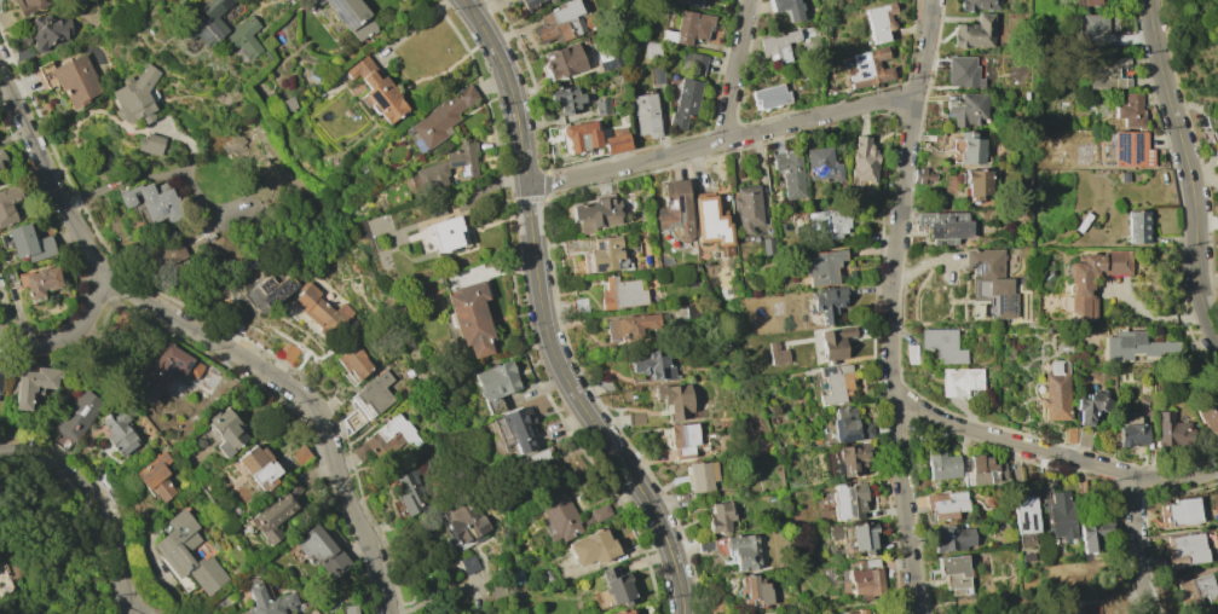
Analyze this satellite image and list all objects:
building: (550, 0)
building: (530, 2)
building: (686, 2)
building: (1090, 2)
building: (1217, 2)
road: (441, 4)
building: (977, 4)
building: (28, 5)
building: (787, 7)
building: (352, 17)
building: (879, 21)
building: (206, 22)
building: (559, 23)
building: (689, 27)
building: (1093, 30)
building: (975, 33)
building: (40, 35)
building: (244, 36)
road: (477, 46)
building: (778, 46)
building: (651, 50)
building: (564, 60)
building: (606, 60)
building: (870, 68)
road: (737, 71)
building: (963, 71)
building: (1106, 73)
building: (657, 75)
building: (75, 80)
road: (492, 82)
building: (687, 88)
building: (377, 91)
building: (769, 95)
building: (134, 97)
road: (497, 97)
building: (566, 99)
building: (288, 104)
building: (602, 106)
building: (968, 109)
building: (1130, 111)
building: (646, 114)
building: (441, 117)
building: (579, 135)
building: (616, 140)
road: (506, 141)
building: (150, 144)
road: (721, 144)
building: (970, 149)
building: (1130, 149)
building: (463, 160)
building: (864, 160)
building: (2, 162)
building: (821, 164)
road: (1190, 170)
building: (789, 173)
building: (923, 175)
road: (150, 176)
building: (428, 176)
building: (1124, 176)
building: (0, 178)
road: (512, 179)
building: (977, 184)
road: (535, 198)
road: (509, 199)
building: (152, 201)
road: (507, 202)
building: (7, 203)
building: (746, 207)
building: (596, 213)
building: (675, 214)
road: (515, 215)
building: (710, 220)
building: (826, 224)
building: (945, 226)
building: (1138, 227)
building: (445, 233)
building: (29, 243)
building: (767, 245)
building: (169, 251)
building: (605, 255)
road: (521, 265)
building: (822, 267)
building: (0, 282)
building: (39, 282)
building: (991, 282)
building: (1080, 285)
building: (269, 291)
building: (622, 294)
building: (829, 302)
road: (891, 306)
building: (319, 309)
building: (693, 309)
road: (527, 314)
road: (515, 315)
road: (541, 317)
building: (471, 318)
building: (123, 324)
building: (630, 326)
road: (206, 338)
road: (68, 340)
road: (538, 343)
building: (835, 343)
building: (941, 344)
building: (1132, 346)
road: (523, 348)
building: (285, 352)
building: (777, 353)
road: (485, 359)
building: (352, 361)
road: (541, 361)
building: (653, 364)
building: (162, 369)
building: (0, 372)
building: (496, 381)
building: (960, 381)
road: (552, 382)
building: (833, 383)
building: (30, 384)
building: (1056, 392)
building: (373, 394)
building: (675, 400)
road: (566, 405)
building: (1092, 405)
building: (1145, 405)
building: (77, 415)
building: (636, 418)
building: (1210, 418)
road: (575, 419)
building: (848, 425)
building: (516, 428)
building: (120, 430)
building: (1172, 430)
building: (225, 431)
building: (1070, 434)
building: (1132, 434)
building: (386, 439)
building: (686, 440)
road: (589, 441)
road: (342, 450)
road: (1054, 452)
building: (300, 456)
building: (535, 459)
building: (850, 459)
building: (941, 465)
building: (259, 468)
building: (983, 471)
building: (700, 475)
building: (156, 476)
road: (620, 483)
building: (409, 491)
road: (627, 493)
building: (848, 500)
road: (96, 503)
building: (945, 504)
building: (1182, 511)
building: (596, 514)
building: (1060, 515)
building: (558, 516)
building: (271, 517)
building: (718, 517)
building: (1024, 520)
building: (463, 522)
road: (646, 528)
building: (1093, 534)
building: (864, 538)
building: (952, 538)
road: (652, 545)
road: (1136, 546)
building: (591, 548)
building: (172, 549)
building: (1184, 550)
building: (322, 551)
building: (743, 551)
road: (657, 557)
building: (547, 573)
building: (954, 573)
building: (865, 580)
building: (616, 585)
building: (1195, 589)
building: (754, 591)
building: (269, 599)
building: (717, 606)
building: (352, 609)
building: (312, 612)
building: (622, 612)
building: (859, 612)
building: (1217, 613)

